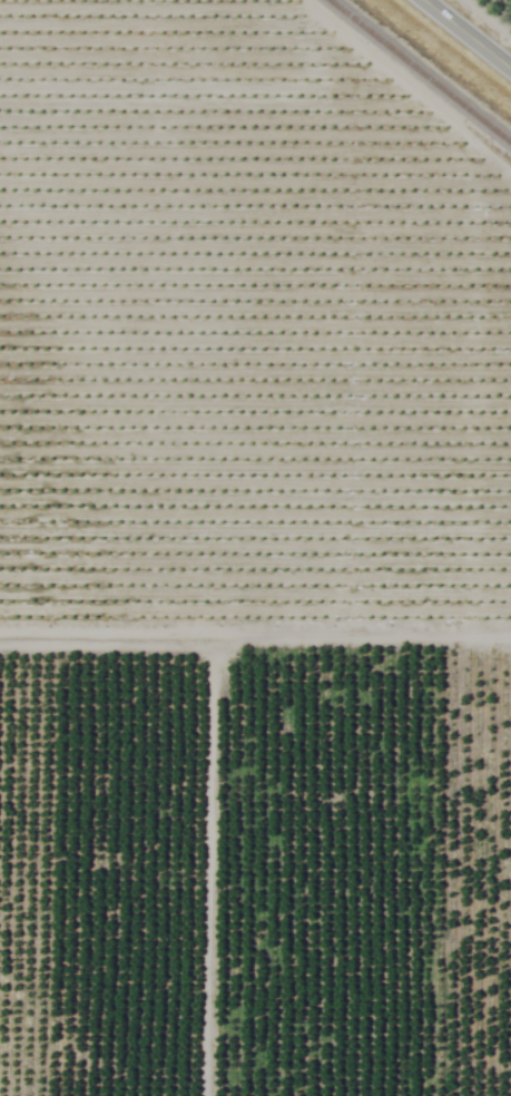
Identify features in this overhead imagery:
road: (465, 35)
railway: (419, 71)
crop: (255, 548)

